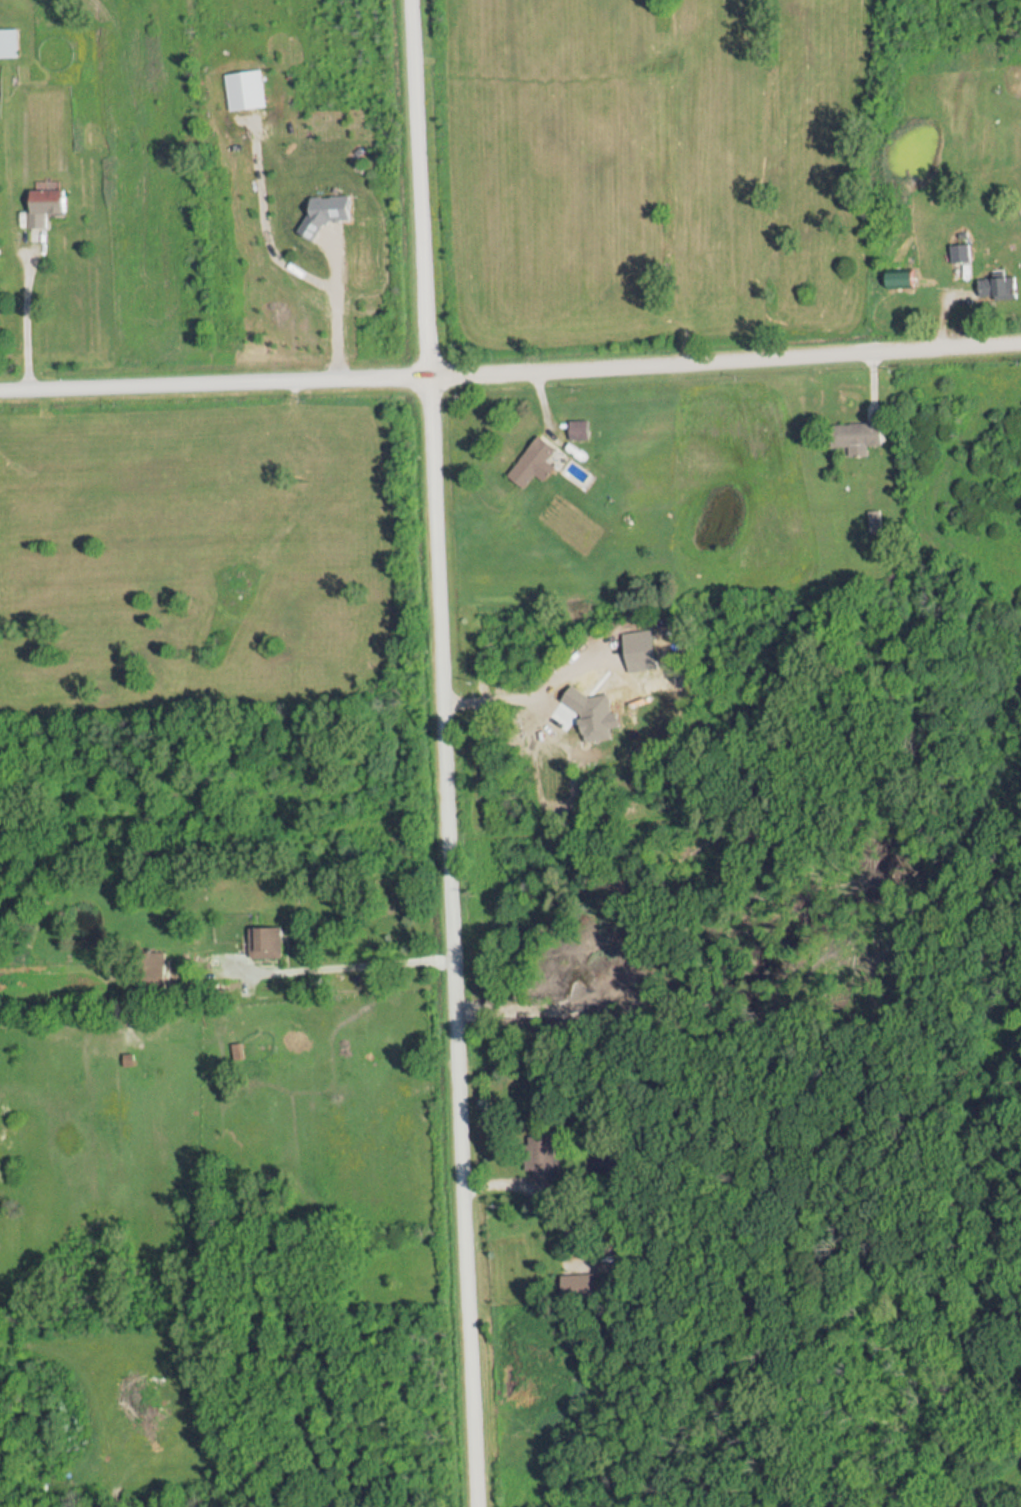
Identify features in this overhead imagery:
building: (9, 44)
building: (47, 204)
road: (310, 304)
road: (26, 324)
road: (510, 370)
building: (580, 429)
building: (535, 463)
road: (504, 689)
road: (442, 753)
building: (267, 943)
road: (345, 966)

